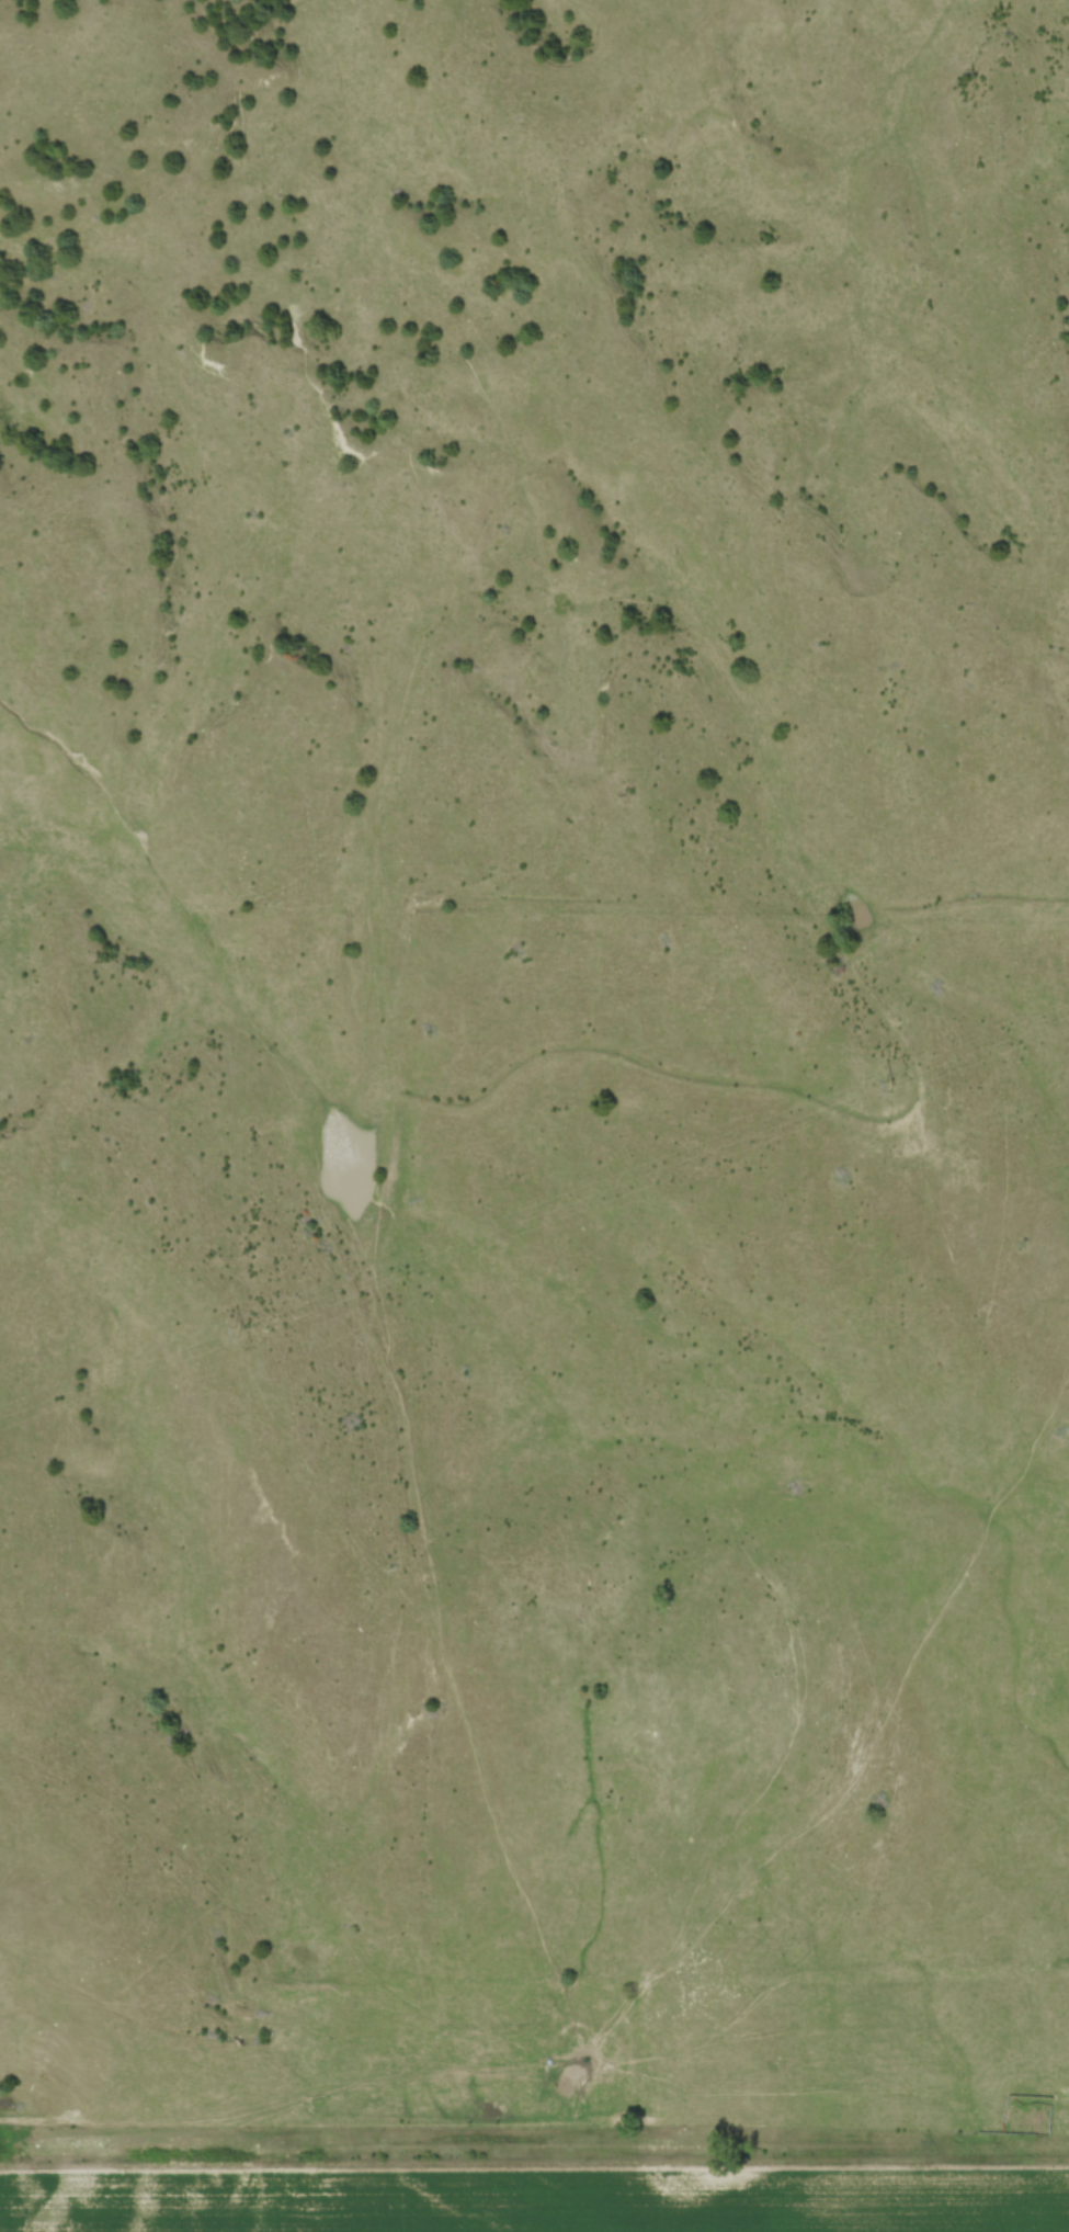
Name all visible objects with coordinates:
power tower: (889, 1085)
power tower: (237, 1330)

